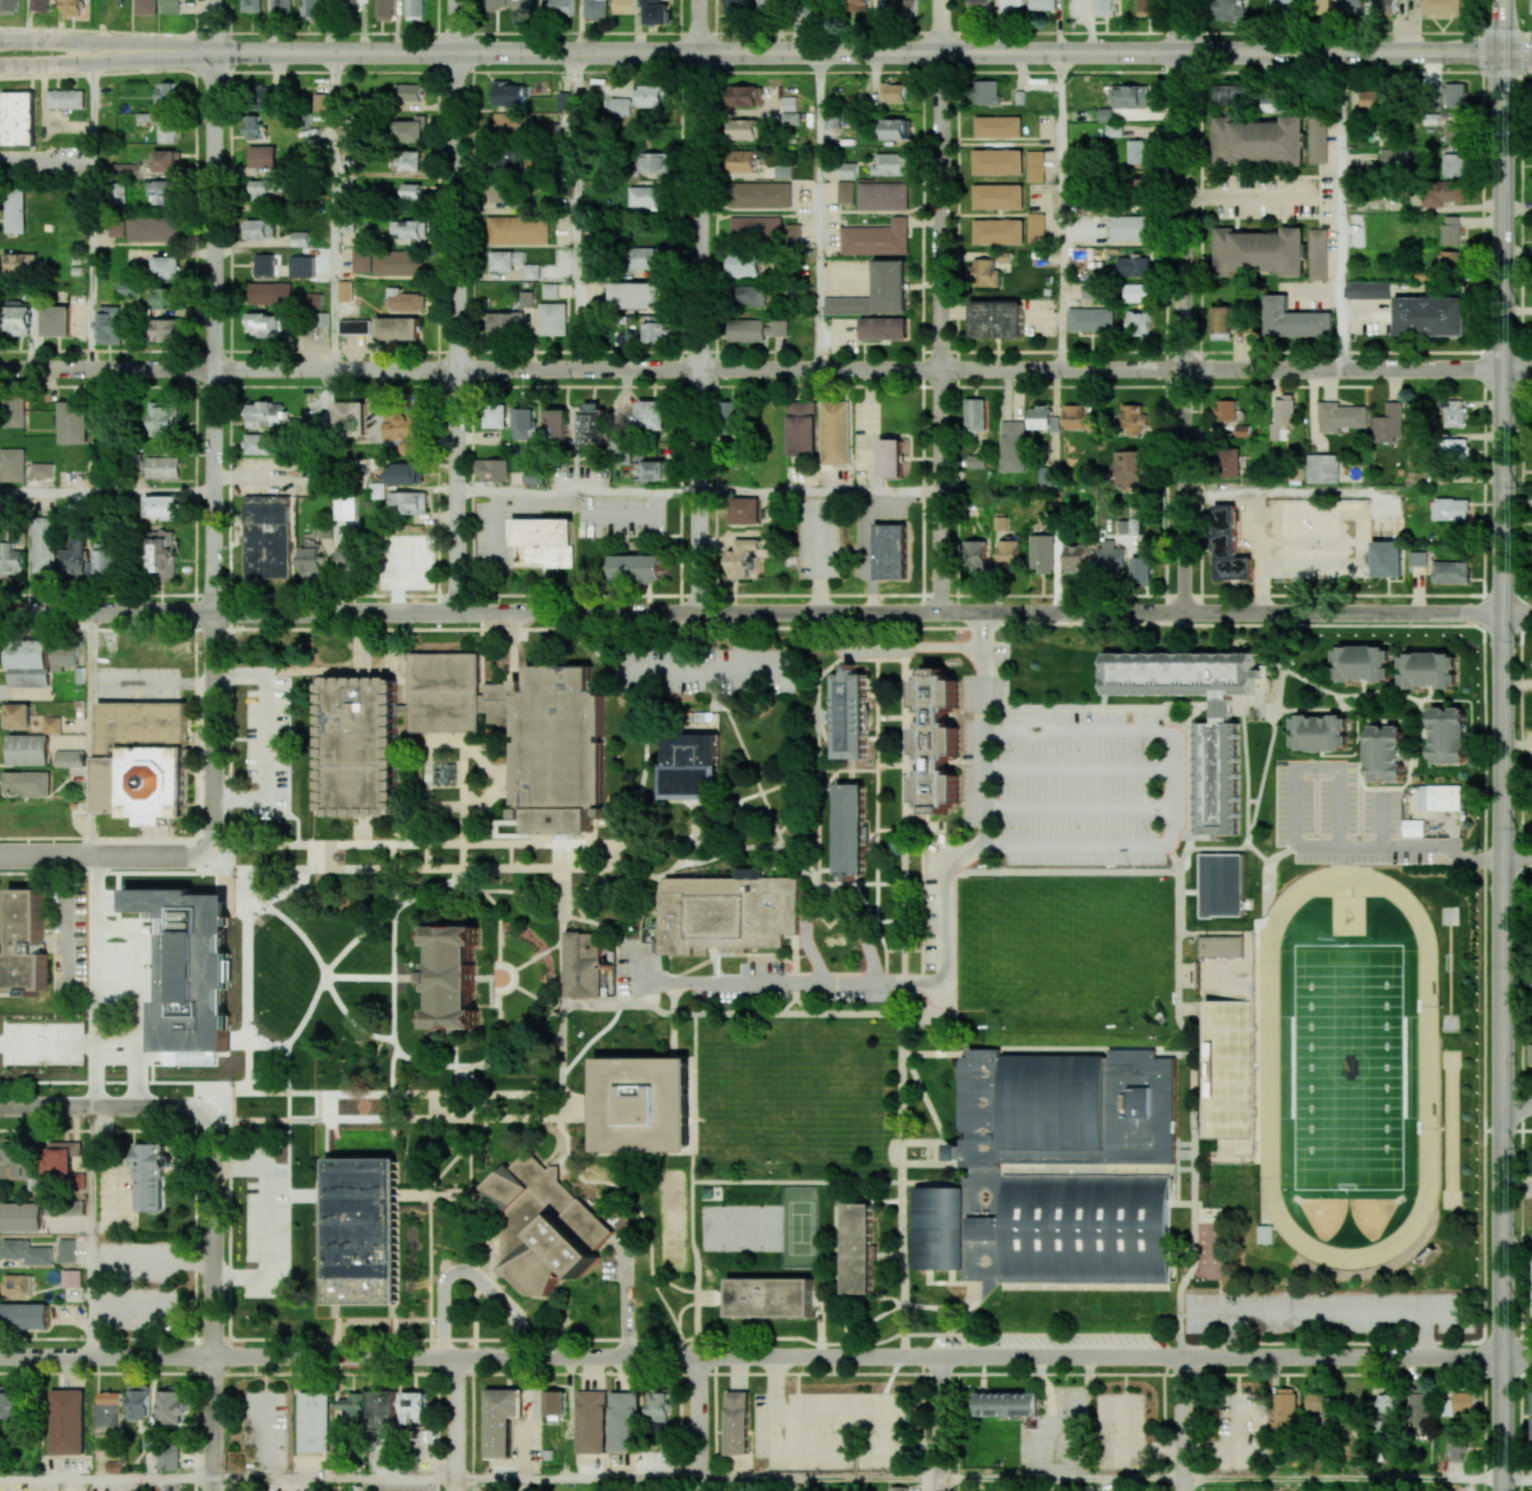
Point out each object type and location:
building: (348, 2)
building: (521, 3)
building: (982, 4)
building: (1011, 4)
building: (1042, 4)
building: (40, 5)
building: (251, 5)
building: (496, 5)
building: (763, 5)
building: (857, 5)
building: (8, 6)
building: (282, 6)
building: (623, 6)
building: (1282, 6)
building: (1351, 6)
building: (71, 7)
building: (146, 7)
building: (171, 7)
building: (561, 7)
building: (734, 7)
building: (905, 7)
building: (1147, 7)
building: (1317, 7)
building: (1384, 7)
building: (1441, 7)
building: (1531, 7)
building: (312, 8)
building: (596, 8)
building: (808, 8)
building: (1105, 8)
building: (415, 9)
building: (384, 10)
building: (1229, 10)
building: (656, 12)
road: (212, 26)
road: (454, 26)
road: (696, 26)
road: (938, 26)
road: (1184, 26)
road: (1502, 27)
road: (106, 42)
road: (857, 52)
traffic signals: (1502, 54)
road: (1517, 54)
road: (106, 62)
road: (765, 71)
building: (408, 92)
building: (892, 92)
building: (987, 92)
building: (510, 94)
building: (1230, 95)
building: (1454, 95)
building: (168, 96)
building: (746, 96)
building: (1131, 96)
building: (65, 97)
building: (265, 98)
building: (1370, 101)
building: (320, 102)
building: (1272, 102)
building: (789, 103)
building: (620, 106)
building: (1106, 114)
building: (18, 118)
building: (791, 118)
building: (512, 124)
building: (998, 126)
building: (254, 127)
building: (746, 129)
building: (896, 129)
building: (411, 130)
building: (1114, 130)
building: (167, 131)
building: (1454, 131)
building: (1260, 140)
building: (1318, 140)
building: (1137, 151)
building: (262, 156)
building: (509, 157)
building: (1388, 158)
road: (45, 160)
building: (407, 160)
building: (167, 161)
building: (742, 161)
building: (655, 162)
building: (998, 162)
building: (892, 164)
building: (1453, 164)
building: (1036, 166)
building: (126, 170)
building: (847, 170)
building: (783, 171)
building: (265, 188)
building: (412, 191)
building: (163, 192)
building: (846, 192)
building: (1440, 192)
building: (500, 193)
building: (760, 194)
building: (883, 196)
building: (647, 197)
building: (998, 197)
road: (1250, 197)
building: (1531, 198)
road: (331, 210)
road: (576, 210)
road: (816, 210)
road: (1059, 210)
building: (15, 211)
road: (1340, 211)
road: (90, 215)
building: (754, 227)
building: (1036, 227)
building: (1128, 227)
building: (116, 228)
building: (152, 228)
building: (261, 229)
building: (409, 229)
building: (518, 230)
building: (1451, 230)
building: (998, 231)
building: (793, 234)
building: (300, 238)
building: (876, 238)
building: (1260, 251)
building: (1317, 254)
building: (648, 257)
building: (362, 260)
building: (506, 260)
building: (1450, 261)
building: (21, 263)
building: (397, 263)
building: (263, 264)
building: (742, 264)
building: (1133, 265)
building: (165, 267)
building: (531, 271)
building: (984, 272)
road: (842, 281)
building: (891, 286)
building: (345, 290)
building: (550, 290)
building: (1091, 290)
building: (1369, 290)
building: (1137, 292)
building: (269, 293)
road: (1449, 293)
building: (638, 294)
building: (746, 294)
building: (165, 297)
building: (526, 299)
building: (315, 300)
building: (405, 301)
building: (847, 305)
building: (1431, 316)
building: (19, 318)
building: (553, 319)
building: (997, 319)
building: (1091, 319)
building: (56, 320)
building: (1295, 320)
building: (1221, 322)
building: (503, 323)
building: (1139, 323)
building: (265, 324)
building: (109, 325)
building: (355, 326)
building: (397, 328)
building: (884, 328)
building: (756, 329)
building: (167, 330)
road: (454, 331)
road: (698, 331)
road: (212, 332)
building: (656, 332)
road: (941, 332)
road: (1184, 332)
road: (1503, 332)
road: (830, 336)
road: (364, 346)
road: (94, 351)
road: (349, 367)
road: (1101, 368)
road: (1518, 369)
building: (1226, 410)
building: (13, 411)
building: (1454, 413)
building: (264, 414)
building: (976, 414)
building: (653, 415)
building: (1282, 415)
building: (495, 416)
building: (1340, 416)
building: (729, 417)
building: (1077, 417)
building: (351, 418)
building: (163, 419)
building: (1043, 419)
building: (1134, 419)
building: (525, 421)
building: (72, 422)
building: (557, 424)
building: (593, 424)
building: (1389, 424)
building: (801, 428)
road: (872, 429)
building: (1242, 431)
building: (406, 432)
building: (834, 432)
building: (258, 443)
building: (1451, 450)
building: (891, 458)
building: (977, 461)
building: (1228, 462)
building: (12, 464)
building: (163, 467)
building: (1127, 468)
building: (1323, 468)
building: (493, 469)
building: (42, 470)
building: (652, 471)
building: (403, 473)
building: (1047, 476)
building: (533, 477)
road: (106, 490)
building: (377, 490)
road: (577, 490)
road: (820, 491)
road: (1289, 491)
building: (408, 502)
building: (163, 506)
building: (345, 507)
building: (1450, 509)
building: (743, 510)
building: (267, 536)
building: (546, 541)
building: (42, 544)
road: (874, 544)
building: (1228, 546)
building: (890, 551)
building: (1009, 552)
building: (161, 553)
building: (1042, 553)
building: (976, 554)
building: (1110, 556)
building: (75, 557)
building: (347, 557)
building: (741, 557)
building: (106, 558)
building: (414, 558)
building: (1078, 558)
building: (1417, 558)
building: (10, 559)
road: (820, 559)
building: (1387, 559)
building: (312, 560)
building: (638, 567)
building: (1142, 570)
building: (1451, 572)
road: (765, 595)
road: (349, 611)
road: (1101, 612)
road: (1518, 612)
building: (29, 650)
building: (64, 656)
road: (799, 664)
building: (1362, 664)
building: (1429, 670)
road: (151, 682)
building: (446, 688)
building: (19, 716)
building: (851, 717)
building: (52, 725)
road: (212, 731)
road: (91, 733)
building: (1320, 733)
building: (1447, 735)
road: (265, 736)
building: (936, 744)
building: (30, 747)
building: (360, 749)
building: (1385, 753)
building: (556, 755)
building: (68, 758)
road: (750, 763)
building: (145, 764)
building: (691, 765)
road: (1079, 768)
parking lot: (1069, 779)
building: (1218, 779)
building: (27, 783)
road: (1175, 789)
building: (1440, 797)
road: (1079, 808)
parking lot: (1340, 817)
road: (876, 818)
road: (1381, 820)
building: (1413, 827)
building: (850, 831)
road: (475, 844)
road: (1303, 844)
road: (104, 854)
road: (283, 854)
road: (1518, 856)
road: (1520, 856)
road: (1215, 857)
road: (1236, 857)
road: (377, 866)
road: (1267, 878)
road: (445, 882)
building: (1221, 885)
road: (498, 890)
road: (829, 891)
road: (1210, 891)
building: (727, 913)
road: (1223, 914)
road: (499, 923)
road: (947, 935)
park: (1065, 941)
building: (25, 944)
building: (1221, 946)
road: (538, 956)
building: (584, 964)
building: (192, 972)
road: (376, 976)
road: (516, 977)
road: (91, 980)
building: (453, 981)
road: (246, 993)
road: (538, 999)
road: (731, 1012)
road: (349, 1018)
building: (35, 1029)
road: (45, 1045)
road: (279, 1047)
road: (1503, 1051)
building: (1530, 1053)
road: (1050, 1054)
road: (406, 1056)
road: (525, 1061)
road: (457, 1064)
track: (1426, 1066)
building: (1229, 1067)
park: (1346, 1067)
park: (1346, 1067)
stadium: (1230, 1068)
road: (242, 1084)
road: (378, 1092)
building: (1055, 1103)
building: (645, 1104)
road: (103, 1105)
road: (1517, 1107)
road: (378, 1119)
road: (940, 1128)
road: (562, 1129)
building: (59, 1156)
building: (12, 1161)
road: (904, 1169)
building: (152, 1177)
road: (434, 1180)
road: (800, 1181)
road: (697, 1184)
road: (288, 1194)
park: (672, 1194)
road: (1182, 1202)
road: (193, 1213)
building: (21, 1218)
road: (265, 1222)
building: (543, 1225)
park: (725, 1226)
park: (801, 1226)
park: (762, 1227)
building: (941, 1227)
building: (1081, 1229)
road: (91, 1230)
building: (1264, 1234)
building: (361, 1238)
park: (674, 1239)
building: (858, 1244)
building: (66, 1250)
building: (26, 1251)
road: (468, 1276)
building: (71, 1278)
building: (14, 1284)
road: (1520, 1286)
building: (769, 1296)
road: (212, 1300)
road: (1328, 1311)
road: (1188, 1312)
building: (24, 1316)
road: (676, 1329)
road: (1104, 1333)
road: (1231, 1333)
road: (105, 1338)
road: (751, 1356)
road: (1517, 1357)
road: (1124, 1374)
building: (137, 1403)
building: (1388, 1403)
building: (1459, 1403)
building: (413, 1404)
building: (554, 1404)
building: (1009, 1404)
building: (1285, 1404)
building: (1318, 1404)
building: (12, 1406)
building: (658, 1406)
building: (1420, 1407)
building: (170, 1408)
building: (383, 1408)
building: (108, 1409)
building: (352, 1409)
building: (501, 1420)
building: (67, 1421)
building: (315, 1421)
building: (592, 1421)
building: (625, 1421)
building: (737, 1422)
road: (456, 1423)
road: (699, 1423)
road: (941, 1423)
road: (1184, 1423)
road: (434, 1431)
building: (150, 1440)
building: (1457, 1446)
building: (167, 1455)
building: (115, 1466)
road: (1343, 1479)
road: (1517, 1479)
road: (105, 1480)
road: (334, 1480)
road: (577, 1480)
road: (820, 1480)
road: (1062, 1480)
building: (898, 1488)
building: (807, 1490)

